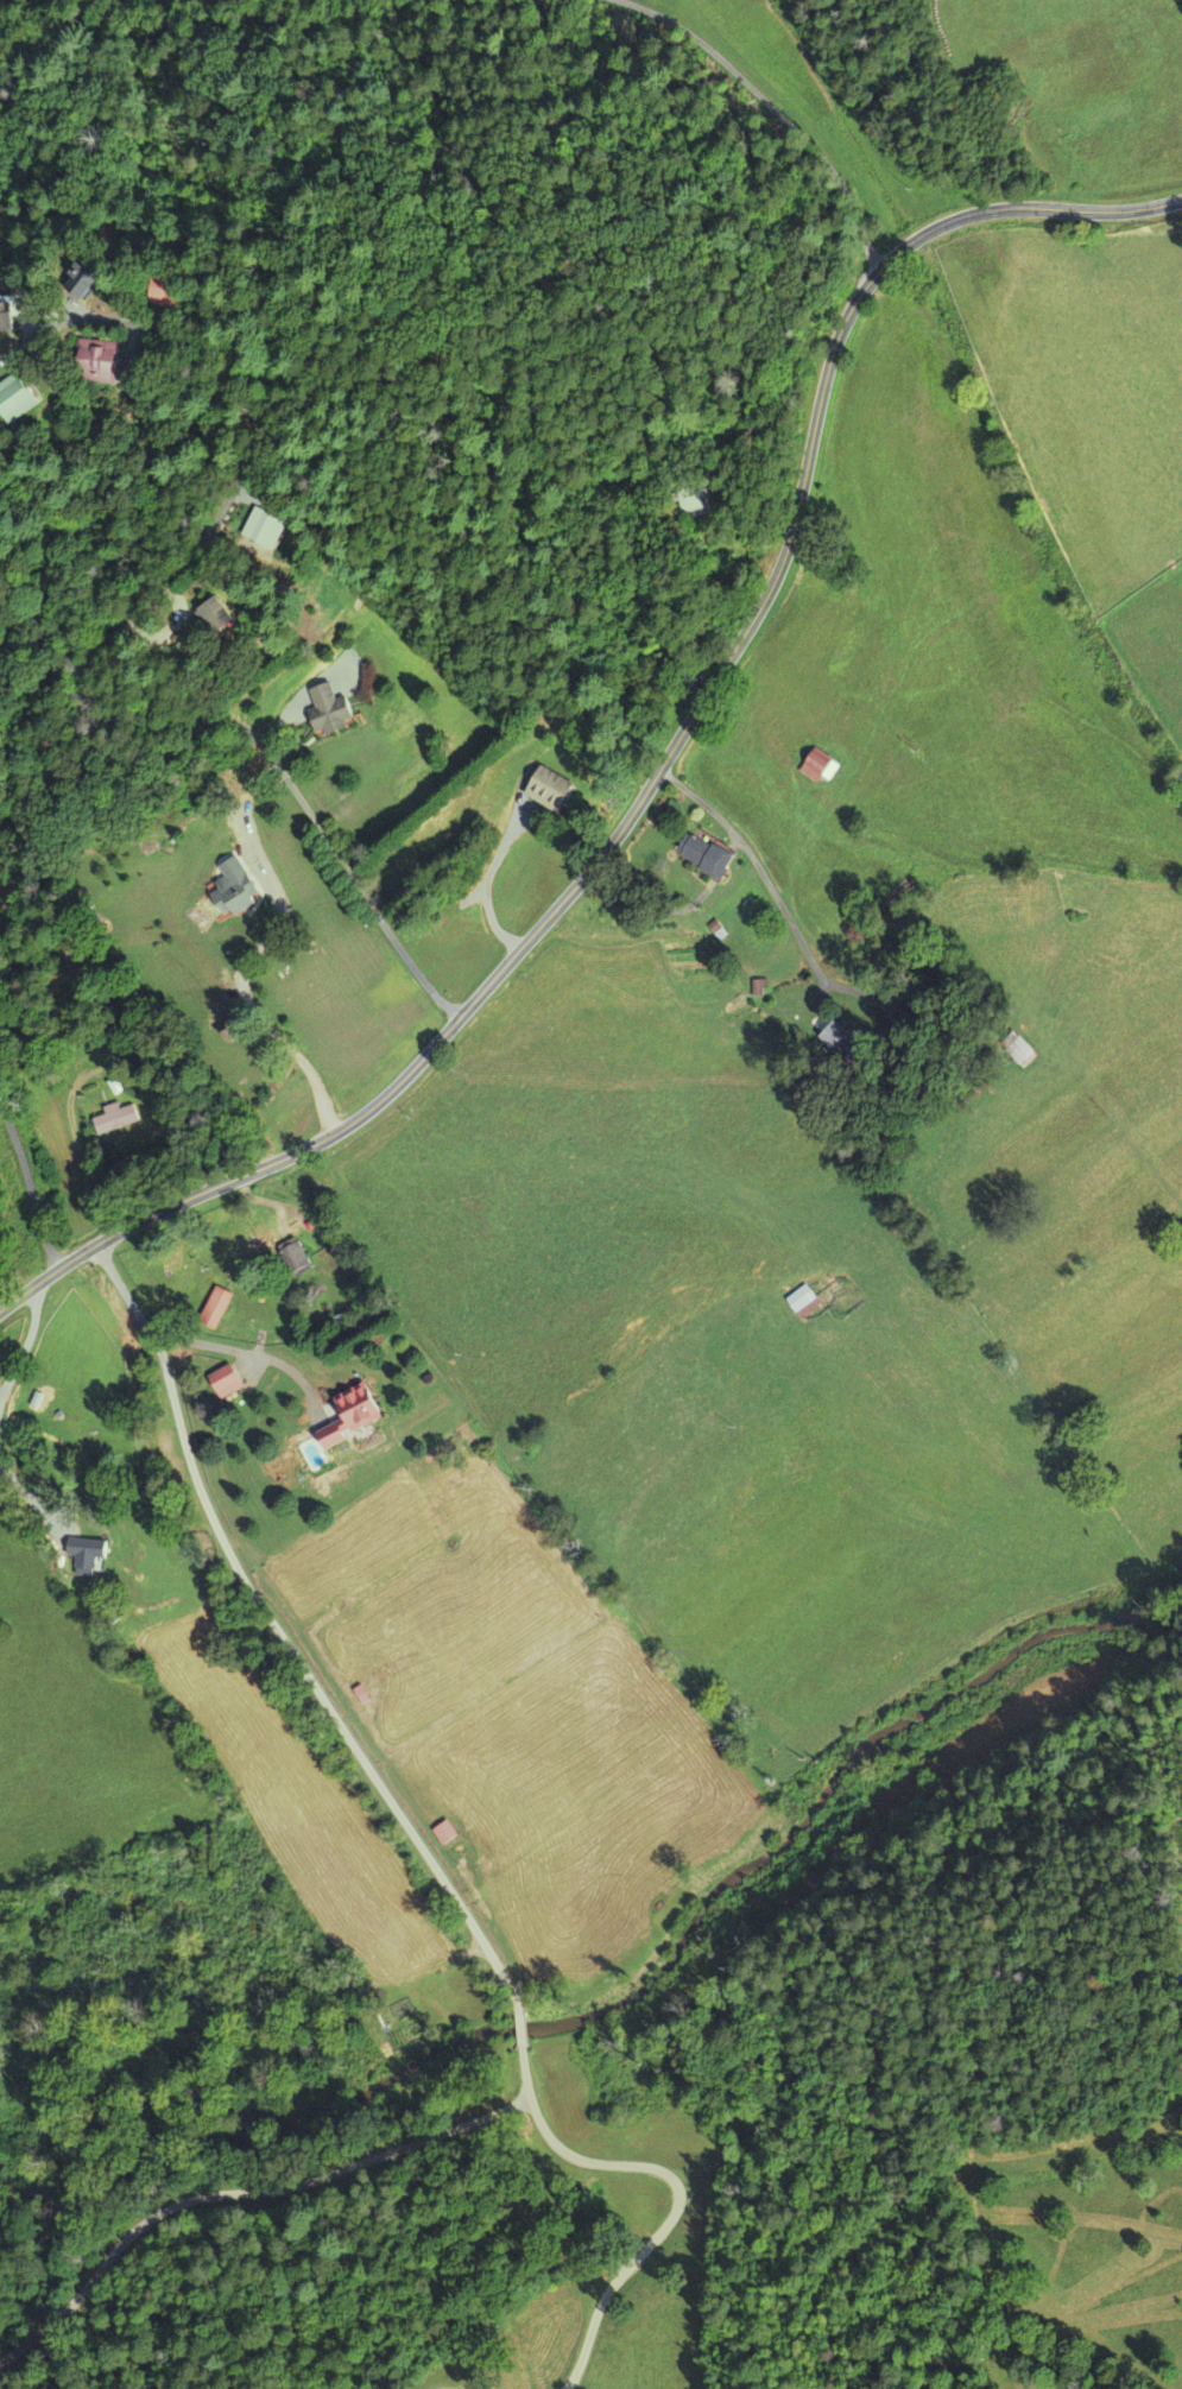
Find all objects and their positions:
road: (761, 122)
road: (1077, 208)
road: (942, 223)
building: (103, 362)
building: (19, 399)
building: (267, 531)
building: (219, 619)
road: (114, 634)
building: (335, 712)
building: (822, 769)
building: (555, 790)
building: (710, 858)
road: (580, 879)
building: (241, 890)
building: (120, 1125)
road: (32, 1186)
building: (805, 1301)
building: (221, 1309)
building: (232, 1383)
building: (360, 1417)
building: (93, 1556)
building: (450, 1834)

